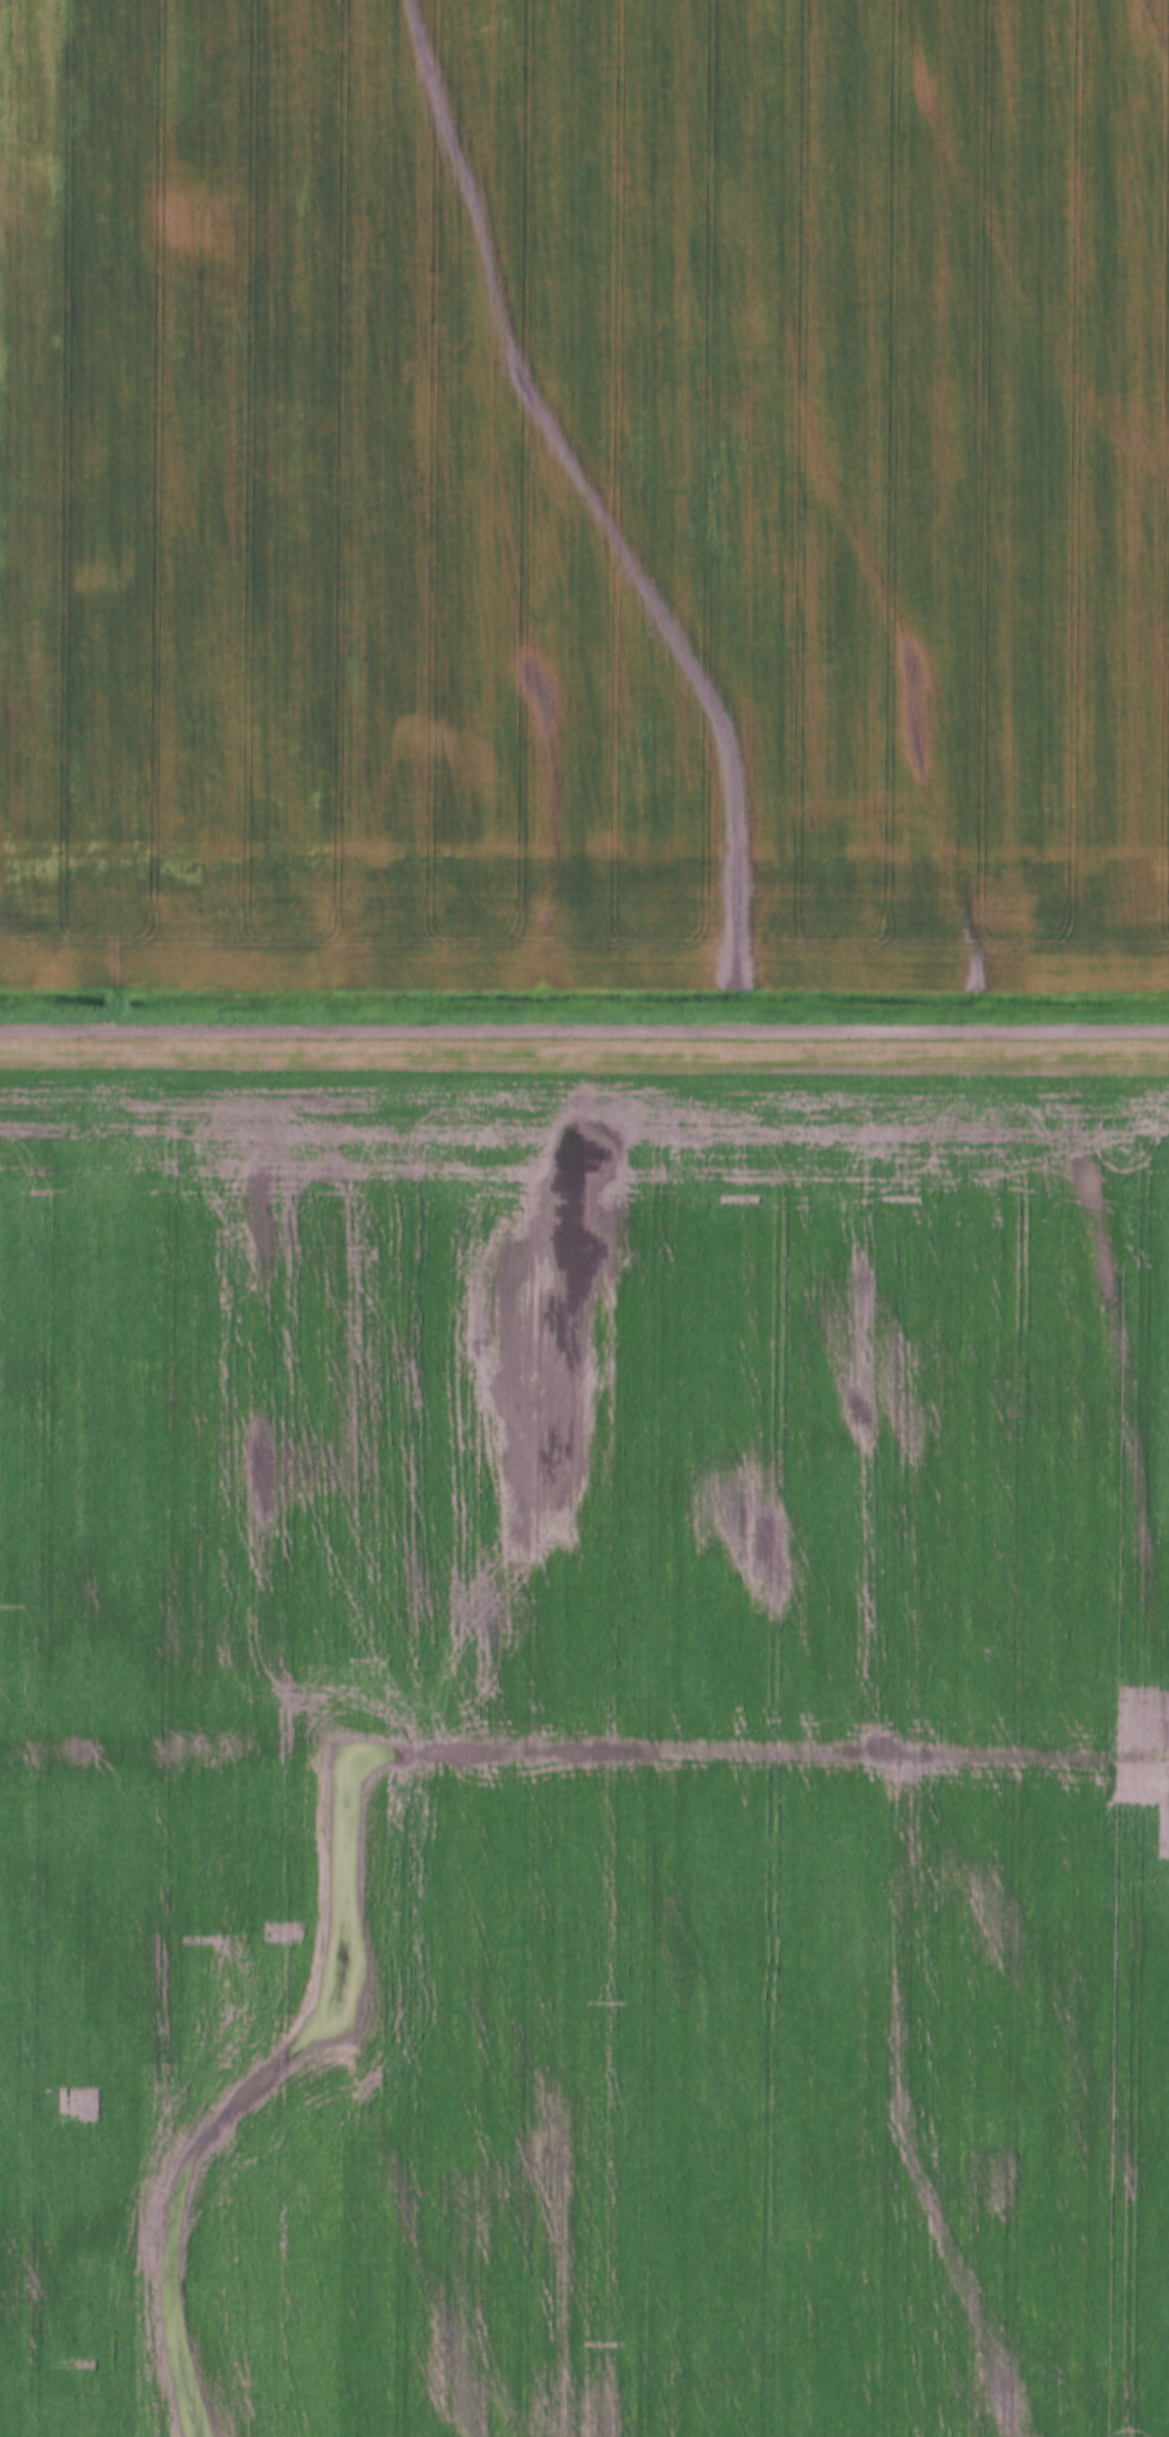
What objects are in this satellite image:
road: (583, 1035)

